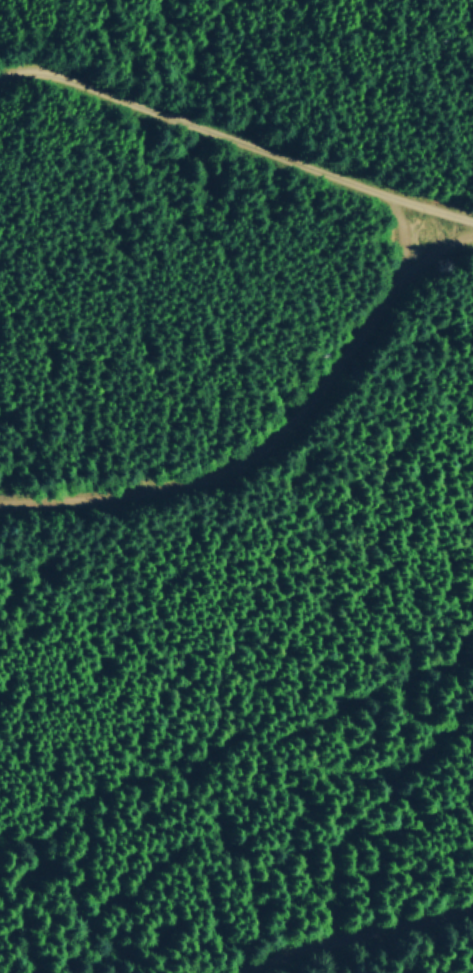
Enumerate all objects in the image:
road: (236, 138)
road: (405, 232)
road: (277, 444)
road: (359, 938)

